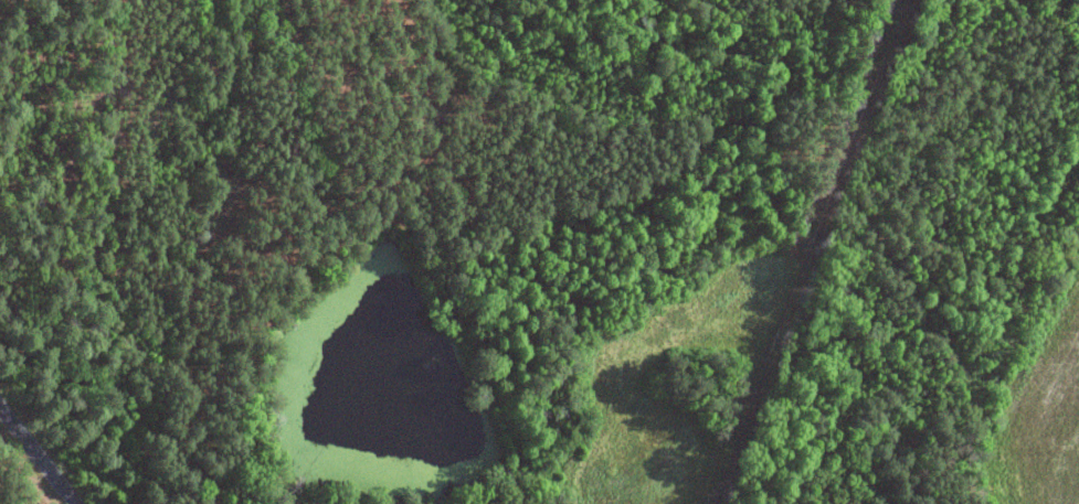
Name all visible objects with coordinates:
road: (35, 460)

